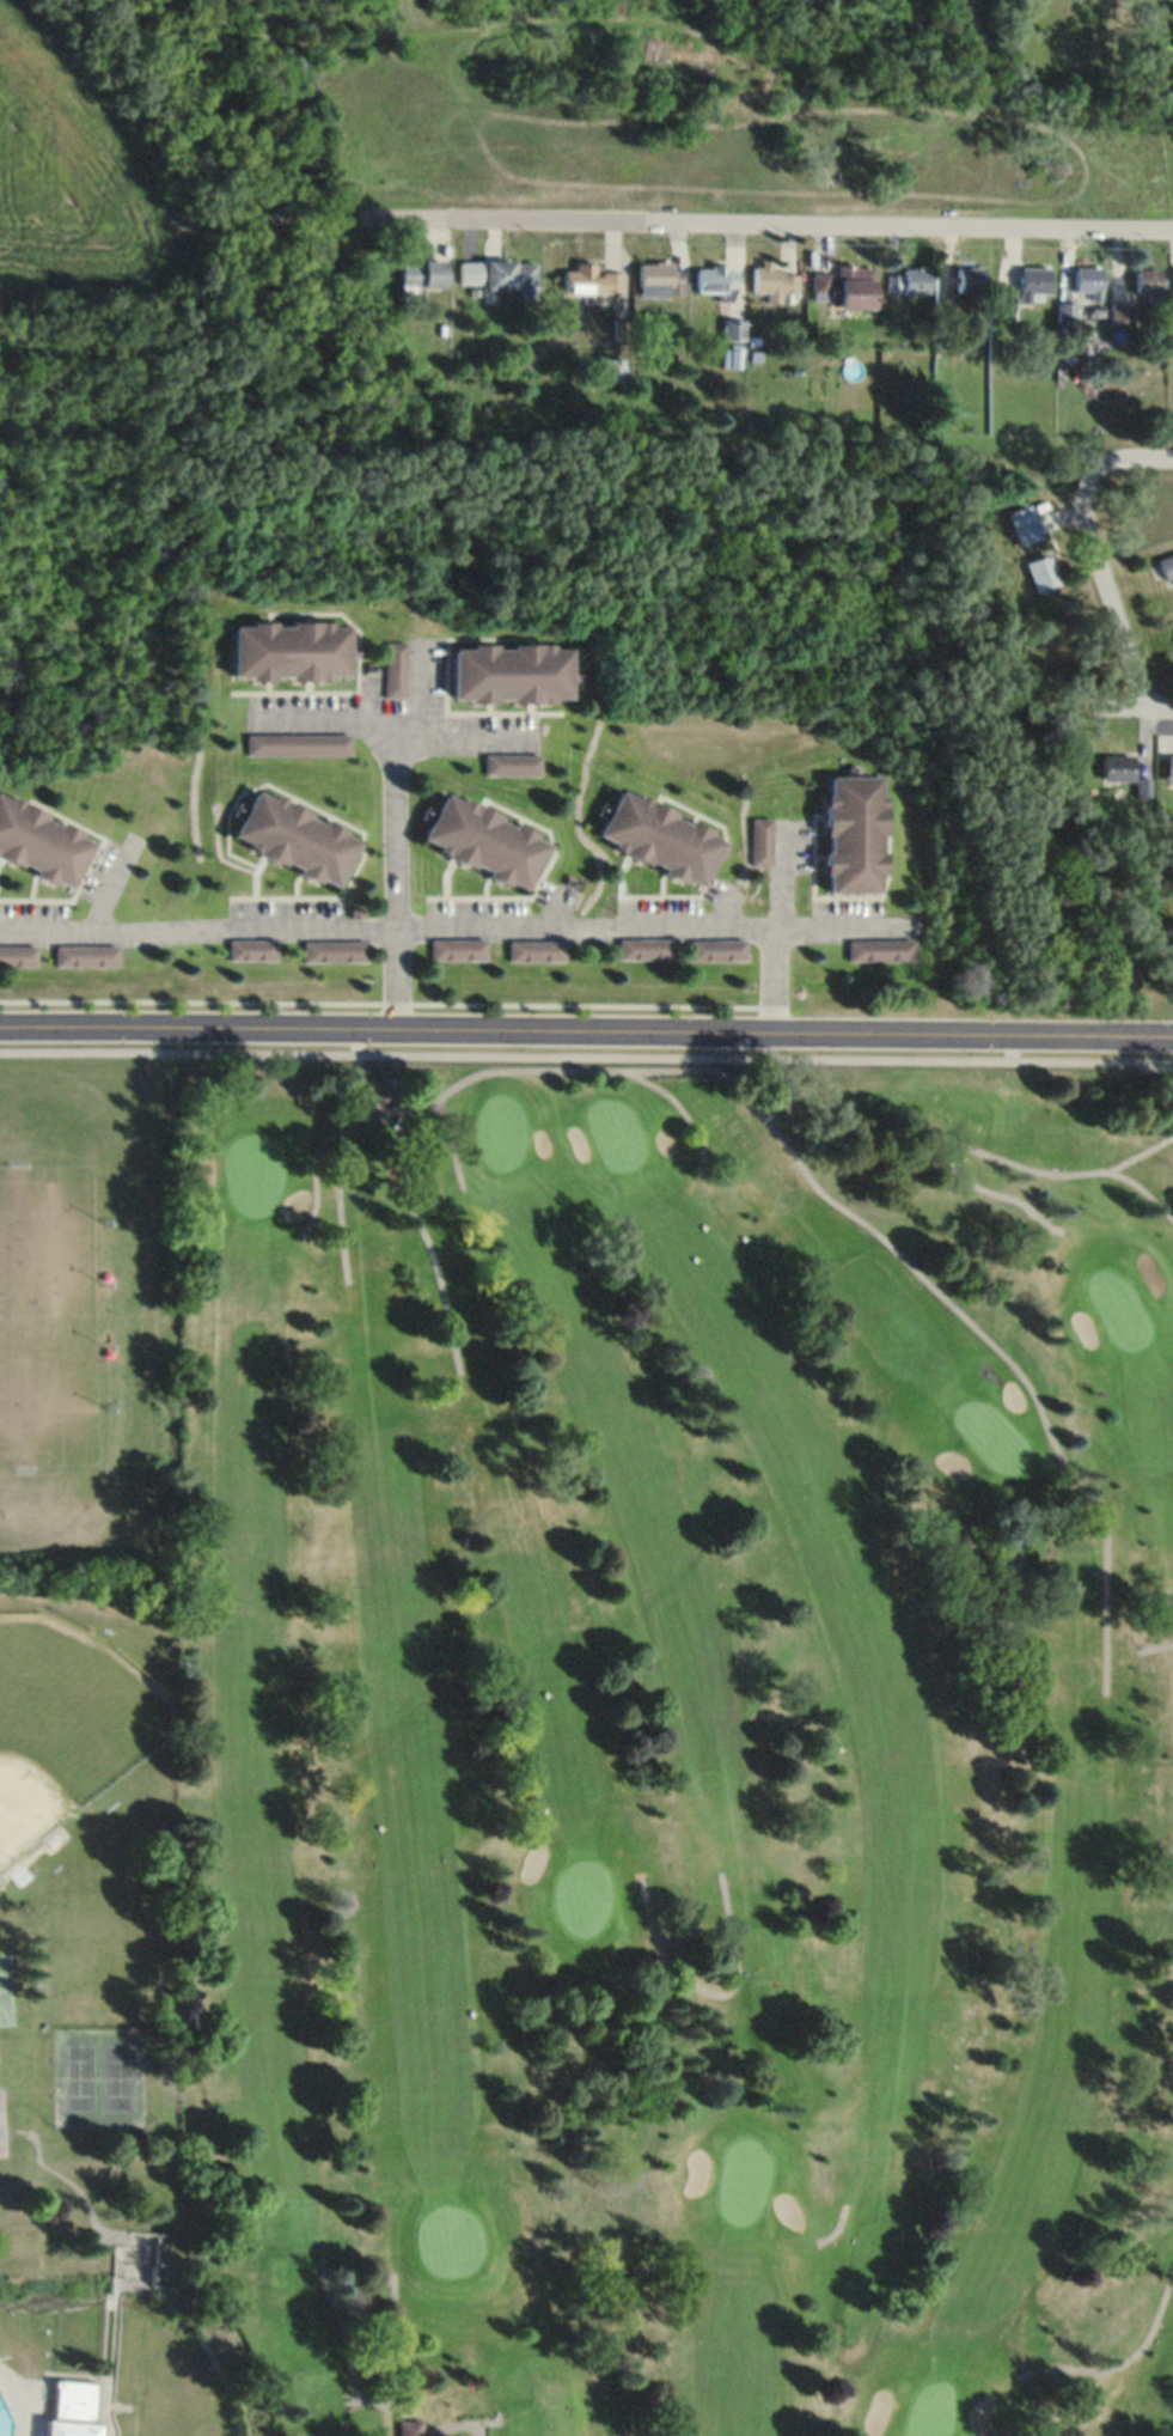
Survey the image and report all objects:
road: (766, 231)
building: (469, 270)
building: (419, 274)
building: (511, 275)
building: (970, 278)
building: (587, 279)
building: (656, 279)
building: (714, 279)
building: (771, 280)
building: (910, 280)
building: (1087, 280)
building: (1147, 281)
building: (1025, 284)
building: (843, 285)
building: (1063, 310)
building: (1118, 311)
building: (731, 328)
building: (729, 355)
building: (609, 369)
road: (1136, 470)
building: (1021, 524)
building: (1165, 567)
building: (1040, 572)
road: (1104, 590)
building: (291, 651)
building: (513, 674)
road: (422, 682)
road: (331, 710)
road: (1089, 713)
road: (1156, 714)
building: (300, 745)
building: (509, 765)
building: (1168, 768)
building: (1120, 771)
road: (395, 805)
building: (855, 834)
building: (297, 838)
building: (660, 838)
building: (487, 841)
building: (42, 844)
road: (781, 866)
road: (647, 913)
road: (197, 916)
building: (646, 949)
building: (716, 949)
building: (878, 949)
building: (85, 954)
building: (17, 955)
road: (771, 963)
road: (586, 1013)
road: (586, 1055)
road: (680, 1114)
park: (496, 1132)
park: (612, 1133)
road: (448, 1144)
road: (1138, 1152)
road: (992, 1158)
road: (796, 1167)
park: (250, 1173)
road: (332, 1205)
road: (428, 1249)
park: (1116, 1309)
park: (988, 1433)
building: (1010, 1563)
road: (1162, 1598)
road: (1150, 1648)
park: (682, 1743)
park: (578, 1895)
park: (4, 1990)
road: (705, 1990)
park: (102, 2033)
park: (74, 2077)
park: (115, 2077)
park: (740, 2179)
road: (832, 2228)
park: (448, 2240)
road: (1114, 2364)
road: (385, 2405)
building: (73, 2410)
park: (927, 2410)
road: (403, 2422)
road: (451, 2426)

